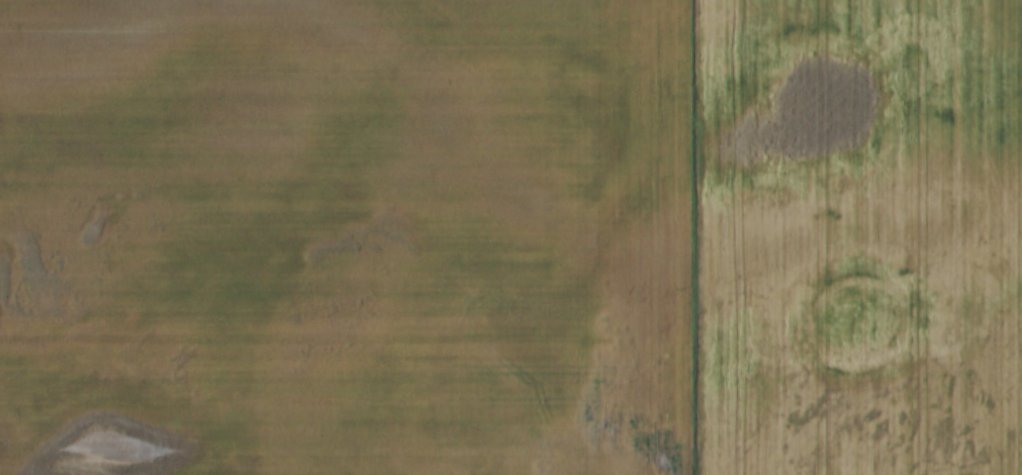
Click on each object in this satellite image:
road: (687, 237)

